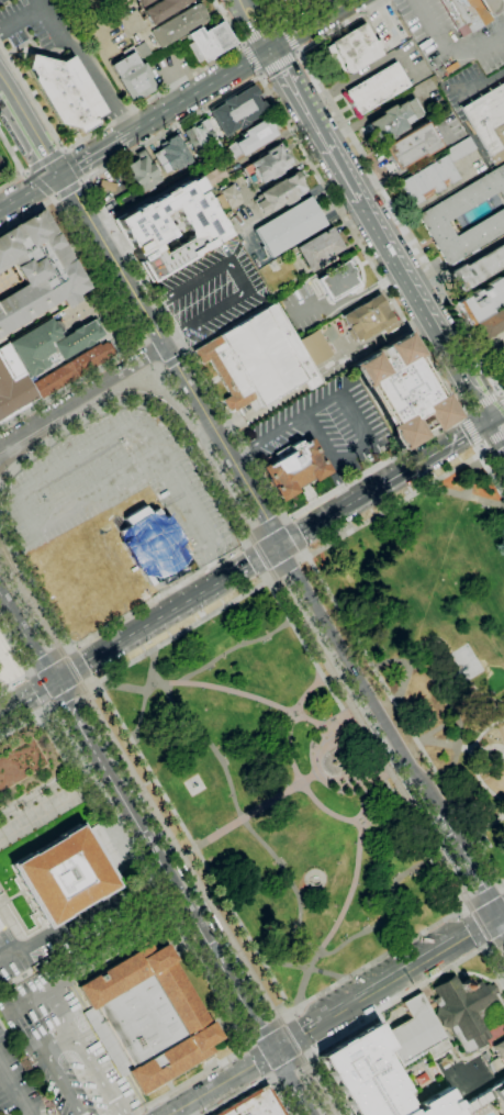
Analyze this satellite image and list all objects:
building: (100, 0)
building: (104, 0)
building: (143, 2)
building: (285, 4)
building: (163, 9)
building: (467, 13)
road: (288, 16)
road: (20, 18)
road: (280, 22)
road: (255, 24)
road: (310, 24)
parking lot: (38, 25)
building: (179, 25)
road: (261, 32)
road: (288, 37)
building: (209, 42)
road: (243, 42)
road: (243, 44)
building: (355, 48)
traffic signals: (270, 49)
road: (447, 51)
road: (296, 52)
road: (253, 59)
road: (85, 63)
road: (279, 64)
road: (261, 74)
building: (132, 75)
road: (360, 75)
road: (172, 85)
road: (2, 86)
building: (377, 88)
road: (199, 90)
building: (65, 91)
road: (33, 98)
building: (236, 111)
building: (393, 120)
building: (488, 121)
road: (313, 125)
road: (31, 133)
building: (201, 136)
building: (251, 137)
building: (411, 145)
building: (459, 149)
road: (14, 152)
road: (92, 153)
building: (170, 155)
road: (307, 155)
road: (45, 159)
building: (0, 161)
road: (74, 164)
road: (413, 164)
building: (267, 165)
building: (143, 172)
traffic signals: (58, 175)
building: (214, 176)
road: (14, 178)
road: (373, 178)
building: (427, 180)
road: (40, 185)
building: (107, 186)
road: (69, 189)
road: (29, 192)
building: (279, 192)
building: (227, 198)
building: (130, 199)
building: (444, 211)
road: (30, 213)
building: (289, 226)
building: (142, 228)
building: (317, 248)
building: (478, 268)
building: (36, 270)
building: (337, 281)
building: (482, 302)
road: (417, 305)
building: (368, 320)
building: (492, 324)
road: (181, 325)
road: (142, 338)
road: (145, 343)
building: (52, 344)
building: (314, 347)
road: (150, 353)
road: (184, 353)
road: (170, 358)
road: (171, 358)
building: (258, 358)
road: (158, 366)
road: (161, 367)
building: (72, 368)
flagpole: (206, 370)
road: (159, 379)
road: (212, 380)
building: (13, 386)
building: (403, 391)
road: (500, 393)
road: (80, 397)
road: (327, 398)
road: (502, 398)
road: (156, 400)
road: (481, 405)
road: (491, 411)
road: (461, 416)
road: (481, 416)
road: (494, 419)
road: (471, 431)
road: (502, 433)
road: (235, 434)
traffic signals: (463, 437)
road: (491, 439)
road: (494, 439)
road: (200, 442)
railway: (27, 446)
traffic signals: (500, 448)
road: (479, 450)
road: (209, 453)
road: (434, 454)
road: (329, 456)
building: (294, 469)
road: (471, 476)
road: (173, 483)
road: (22, 493)
road: (414, 493)
road: (464, 495)
flagpole: (290, 505)
road: (331, 515)
road: (283, 521)
road: (287, 521)
road: (266, 532)
road: (295, 535)
road: (248, 543)
building: (154, 545)
road: (247, 545)
road: (242, 546)
traffic signals: (279, 547)
road: (305, 551)
road: (206, 553)
railway: (7, 555)
road: (255, 558)
road: (302, 558)
road: (247, 566)
road: (284, 569)
road: (265, 576)
road: (269, 578)
railway: (290, 599)
road: (27, 613)
road: (135, 634)
road: (26, 635)
road: (235, 647)
road: (328, 649)
road: (68, 650)
road: (71, 650)
road: (25, 660)
road: (49, 660)
road: (80, 662)
road: (33, 670)
road: (33, 673)
road: (92, 678)
road: (403, 681)
traffic signals: (54, 682)
road: (90, 683)
road: (41, 687)
road: (220, 688)
road: (102, 691)
road: (69, 694)
road: (145, 694)
road: (443, 695)
road: (26, 698)
road: (51, 702)
road: (54, 704)
road: (69, 707)
road: (407, 721)
road: (388, 729)
road: (434, 731)
park: (343, 735)
road: (322, 745)
road: (460, 747)
road: (112, 755)
road: (469, 758)
road: (360, 780)
park: (40, 787)
road: (304, 788)
road: (248, 815)
railway: (167, 830)
building: (63, 874)
road: (290, 881)
railway: (473, 888)
road: (500, 888)
road: (503, 888)
road: (178, 892)
road: (473, 895)
road: (482, 899)
road: (347, 903)
road: (458, 903)
road: (170, 907)
road: (464, 908)
road: (500, 912)
road: (463, 914)
traffic signals: (495, 915)
road: (500, 922)
building: (0, 926)
building: (0, 929)
road: (471, 930)
road: (48, 938)
parking lot: (58, 939)
road: (182, 939)
road: (496, 943)
road: (502, 943)
road: (483, 946)
road: (488, 948)
road: (305, 967)
road: (477, 974)
road: (382, 981)
road: (46, 996)
railway: (266, 1007)
road: (382, 1010)
building: (466, 1011)
building: (146, 1017)
road: (268, 1017)
road: (227, 1018)
road: (285, 1018)
road: (289, 1018)
road: (63, 1026)
road: (359, 1027)
road: (267, 1028)
parking lot: (69, 1032)
building: (416, 1032)
road: (299, 1034)
road: (250, 1039)
road: (251, 1046)
flagpole: (225, 1047)
road: (309, 1050)
building: (500, 1050)
traffic signals: (271, 1051)
road: (307, 1056)
road: (259, 1059)
road: (211, 1064)
building: (496, 1064)
road: (290, 1067)
road: (177, 1074)
road: (269, 1075)
road: (272, 1077)
building: (372, 1078)
building: (417, 1078)
road: (288, 1080)
road: (219, 1082)
parking lot: (18, 1083)
road: (481, 1084)
road: (257, 1086)
road: (311, 1089)
road: (13, 1092)
building: (499, 1093)
building: (255, 1104)
road: (306, 1113)
road: (125, 1114)

